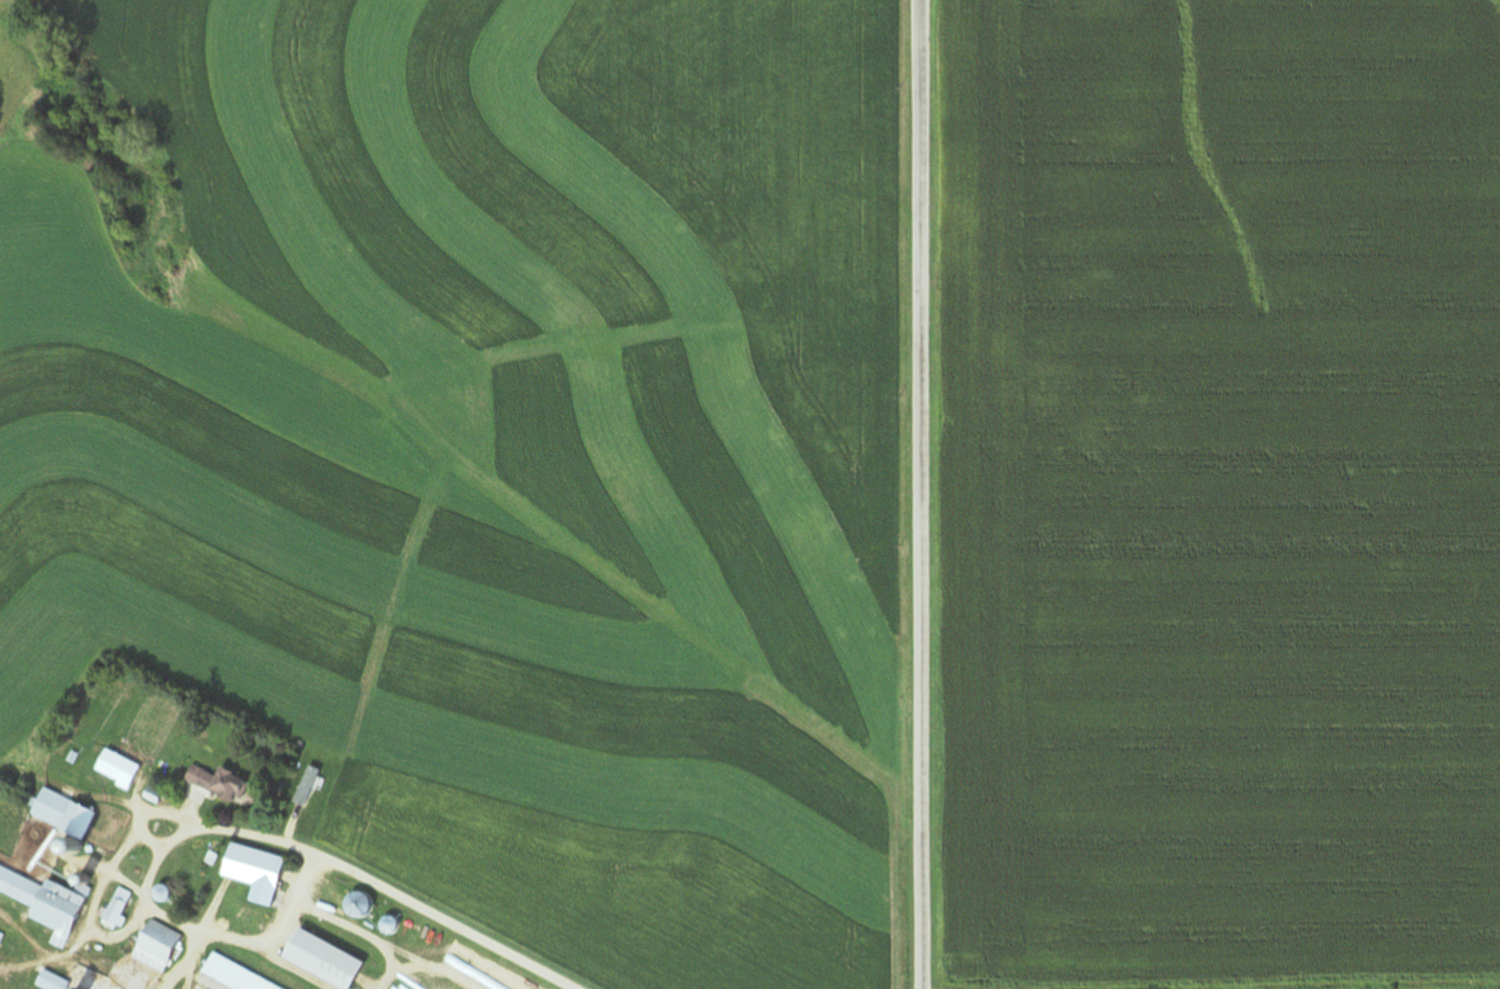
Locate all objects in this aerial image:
road: (922, 494)
building: (131, 763)
road: (1211, 763)
building: (214, 782)
building: (62, 813)
building: (251, 867)
road: (352, 874)
building: (45, 903)
building: (354, 905)
building: (116, 909)
building: (155, 946)
building: (93, 956)
building: (320, 960)
building: (232, 975)

